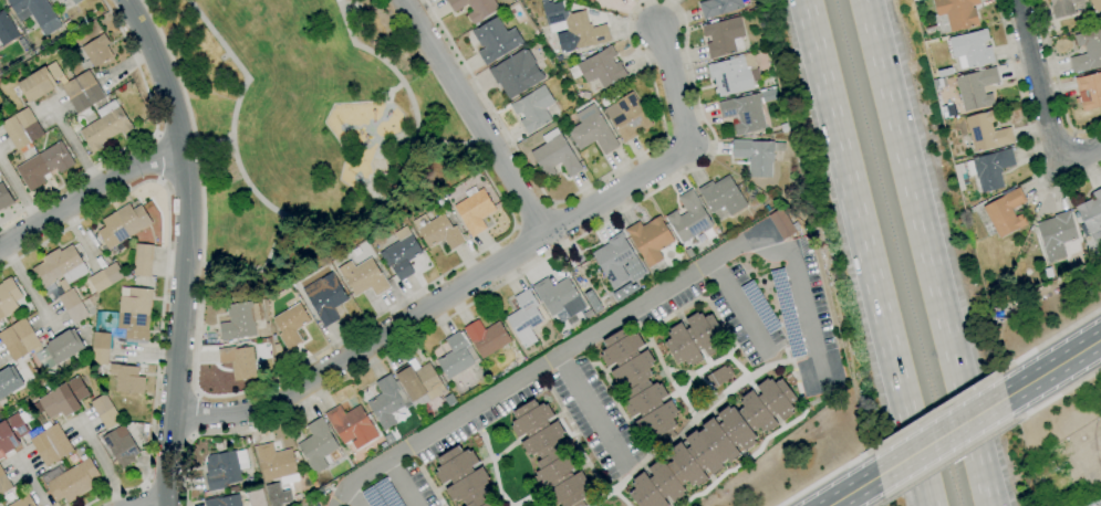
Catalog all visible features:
building: (52, 0)
building: (586, 0)
building: (75, 1)
building: (1094, 4)
building: (475, 8)
building: (718, 8)
building: (1060, 8)
building: (38, 13)
building: (954, 14)
building: (572, 28)
building: (6, 29)
building: (721, 36)
building: (495, 40)
building: (23, 44)
building: (969, 49)
building: (1086, 50)
building: (97, 51)
building: (602, 68)
building: (516, 73)
building: (730, 76)
road: (1039, 81)
road: (1056, 81)
building: (37, 84)
building: (89, 87)
building: (975, 88)
building: (1088, 91)
building: (75, 95)
road: (487, 102)
building: (532, 109)
building: (744, 113)
road: (477, 116)
building: (627, 116)
building: (28, 124)
road: (661, 125)
road: (1028, 127)
building: (105, 128)
park: (304, 128)
building: (591, 130)
building: (985, 131)
building: (14, 133)
road: (139, 140)
road: (443, 143)
road: (76, 147)
road: (1080, 152)
building: (755, 156)
road: (156, 157)
building: (555, 157)
road: (666, 158)
building: (43, 166)
building: (989, 169)
road: (18, 192)
road: (86, 193)
building: (721, 194)
building: (4, 198)
building: (474, 211)
building: (1004, 213)
building: (1091, 214)
road: (532, 215)
building: (688, 218)
building: (781, 223)
building: (123, 224)
road: (326, 224)
building: (440, 233)
building: (1053, 235)
road: (80, 238)
building: (650, 239)
road: (184, 247)
road: (868, 252)
road: (928, 253)
building: (401, 254)
building: (613, 259)
building: (143, 261)
road: (164, 271)
building: (105, 277)
building: (363, 277)
building: (63, 278)
road: (502, 283)
road: (28, 288)
building: (558, 296)
building: (8, 297)
building: (324, 298)
road: (802, 301)
road: (739, 308)
building: (134, 314)
building: (588, 314)
building: (524, 318)
building: (240, 320)
building: (290, 325)
building: (486, 337)
building: (693, 338)
road: (1048, 339)
building: (19, 340)
road: (362, 342)
building: (63, 346)
building: (100, 349)
road: (144, 352)
building: (455, 356)
road: (548, 360)
building: (238, 361)
road: (1052, 368)
building: (717, 376)
building: (126, 379)
building: (9, 381)
building: (419, 382)
building: (638, 384)
road: (224, 394)
road: (1056, 397)
building: (64, 398)
building: (386, 401)
road: (590, 410)
road: (933, 410)
building: (104, 411)
road: (195, 415)
building: (351, 425)
building: (12, 431)
road: (941, 436)
building: (388, 439)
building: (49, 444)
building: (714, 444)
building: (316, 445)
building: (121, 446)
building: (549, 454)
road: (101, 460)
road: (947, 463)
building: (276, 465)
building: (221, 471)
building: (463, 477)
road: (823, 477)
road: (30, 481)
building: (72, 482)
road: (399, 483)
building: (3, 484)
road: (852, 491)
road: (144, 495)
road: (353, 496)
building: (222, 500)
building: (22, 502)
road: (881, 504)
building: (1099, 504)
road: (153, 505)

